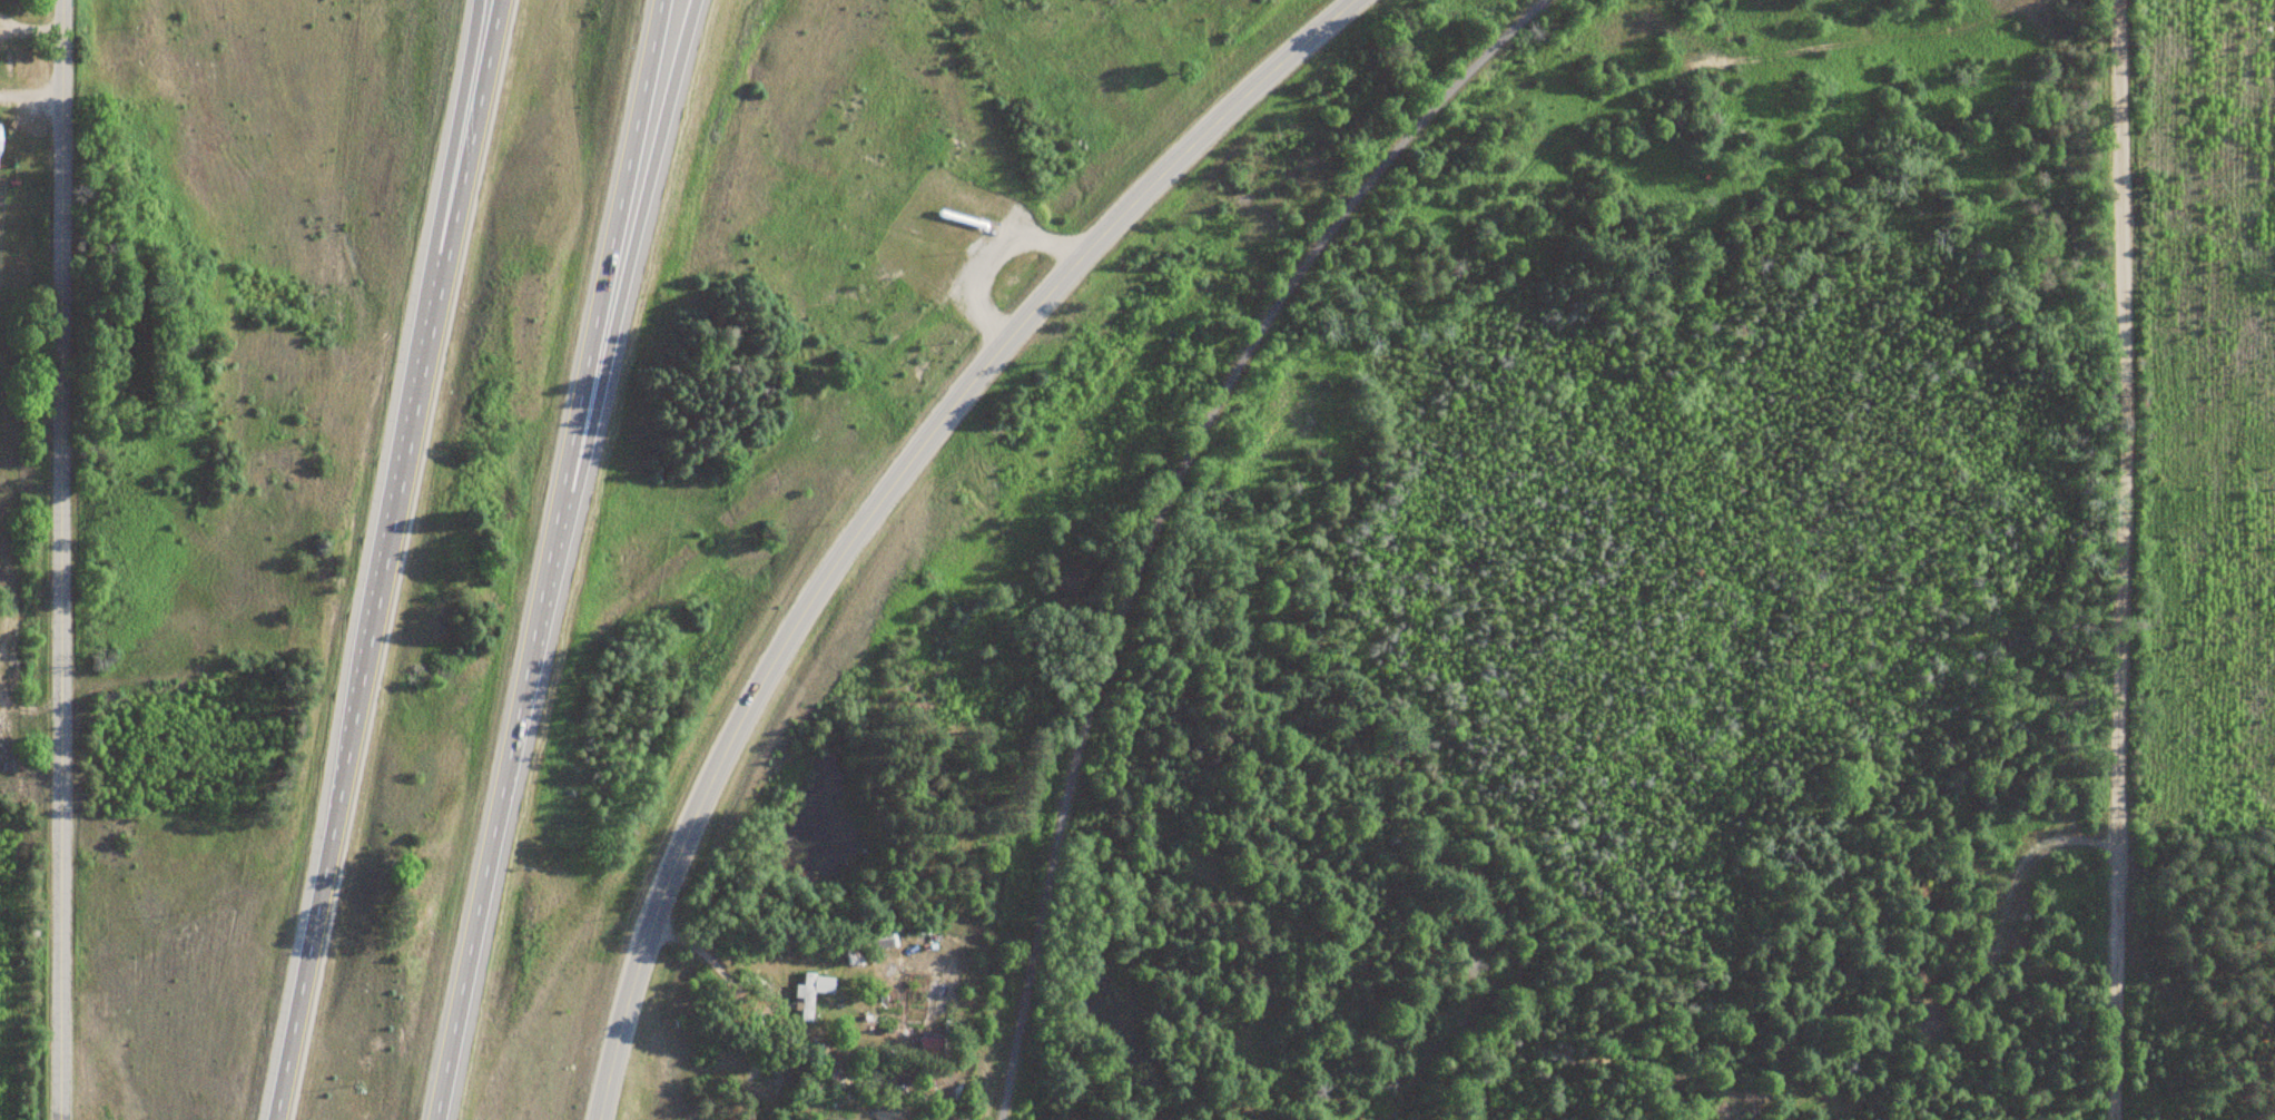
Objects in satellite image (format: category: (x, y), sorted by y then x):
road: (453, 137)
road: (634, 237)
road: (883, 497)
road: (1169, 512)
road: (548, 559)
road: (59, 560)
road: (387, 560)
road: (2120, 560)
building: (855, 950)
building: (812, 992)

